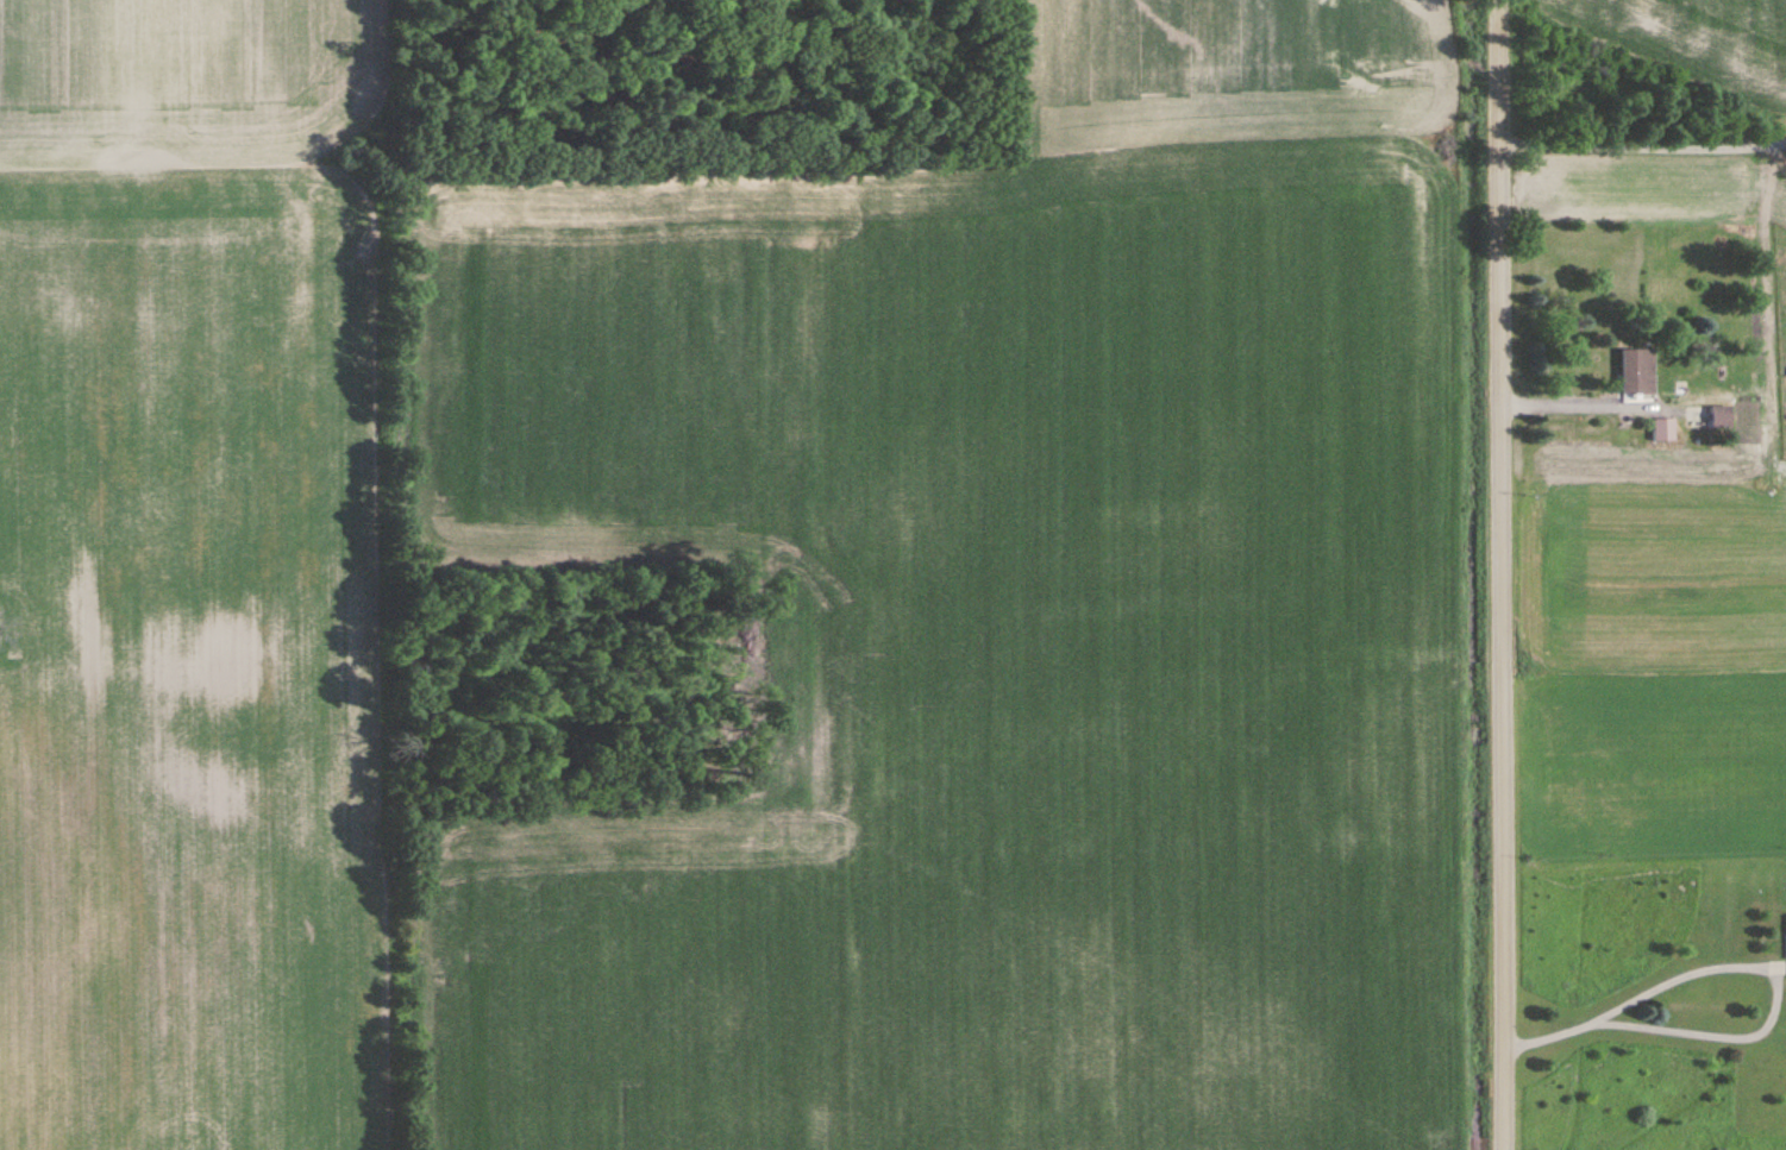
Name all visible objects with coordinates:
road: (1642, 147)
building: (1637, 372)
road: (1560, 400)
building: (1721, 417)
road: (1496, 574)
road: (1737, 959)

